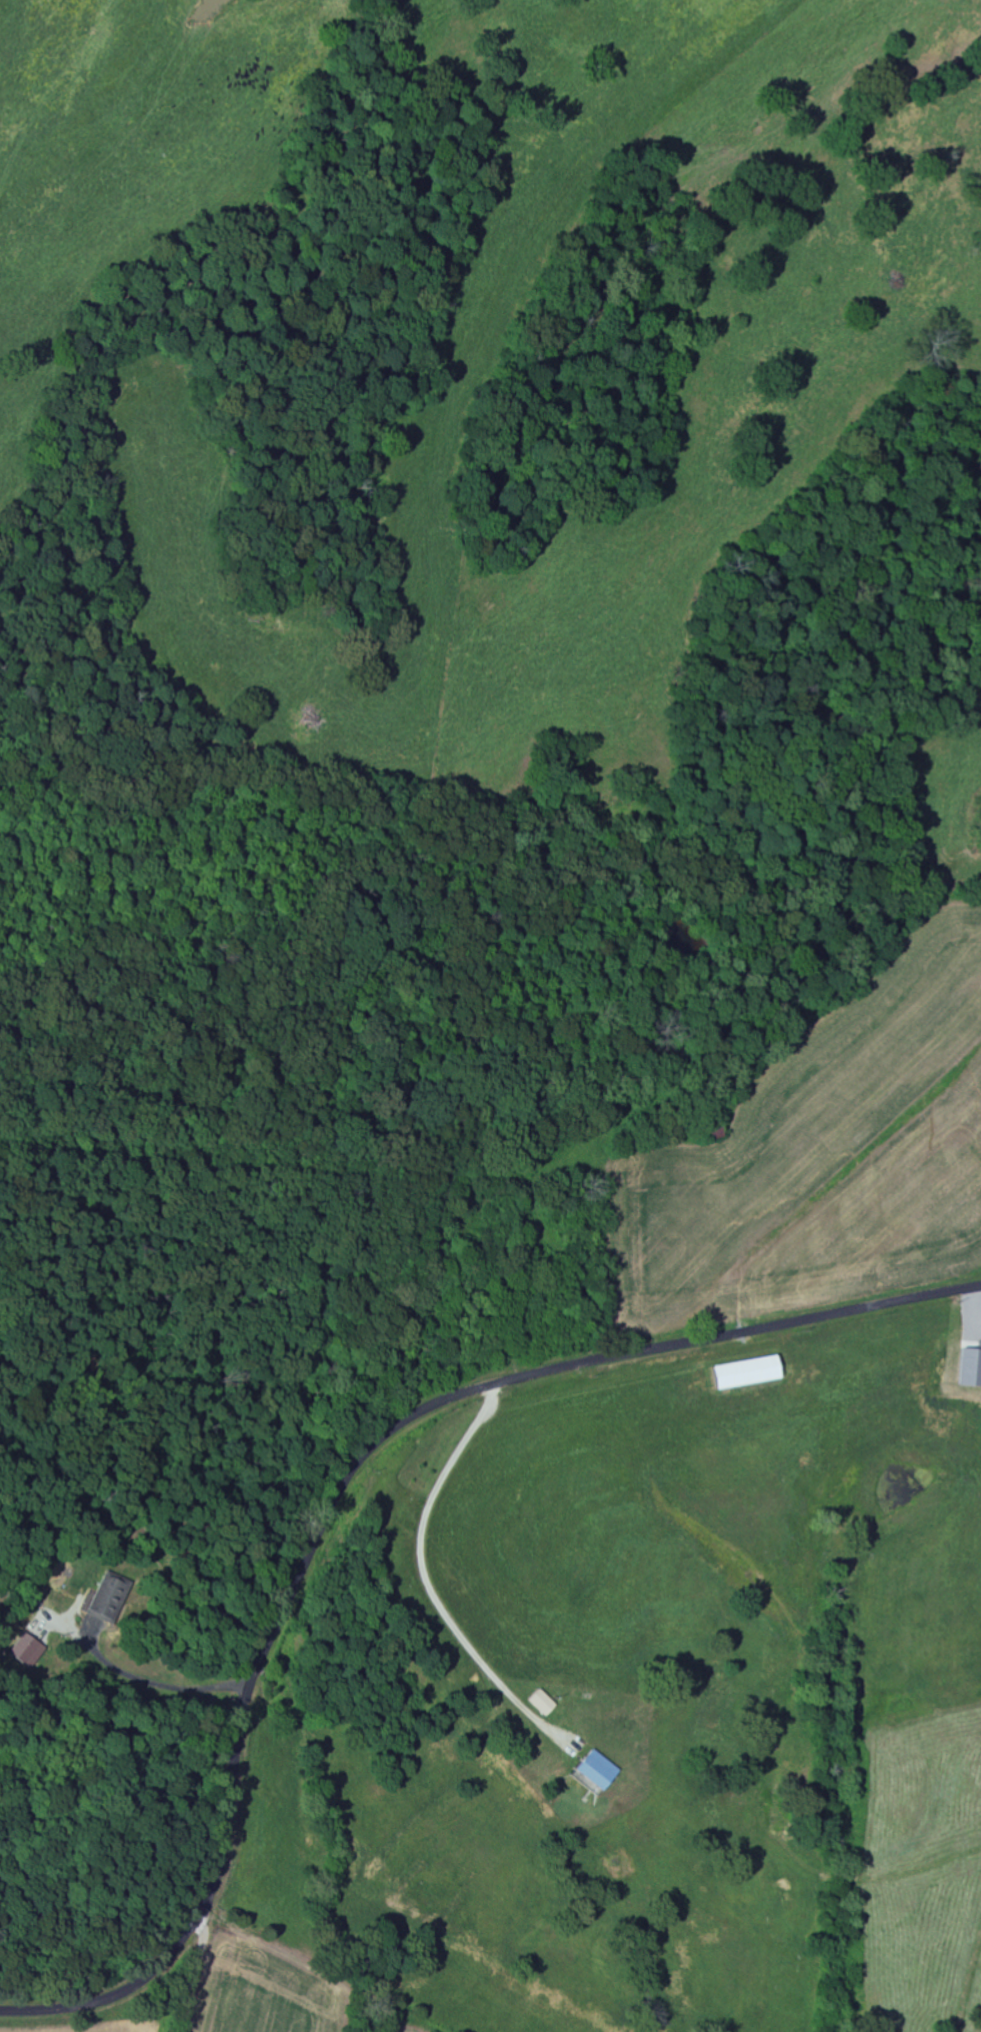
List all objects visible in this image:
building: (974, 1365)
building: (754, 1373)
road: (343, 1492)
building: (110, 1598)
building: (30, 1650)
building: (547, 1702)
building: (602, 1770)

